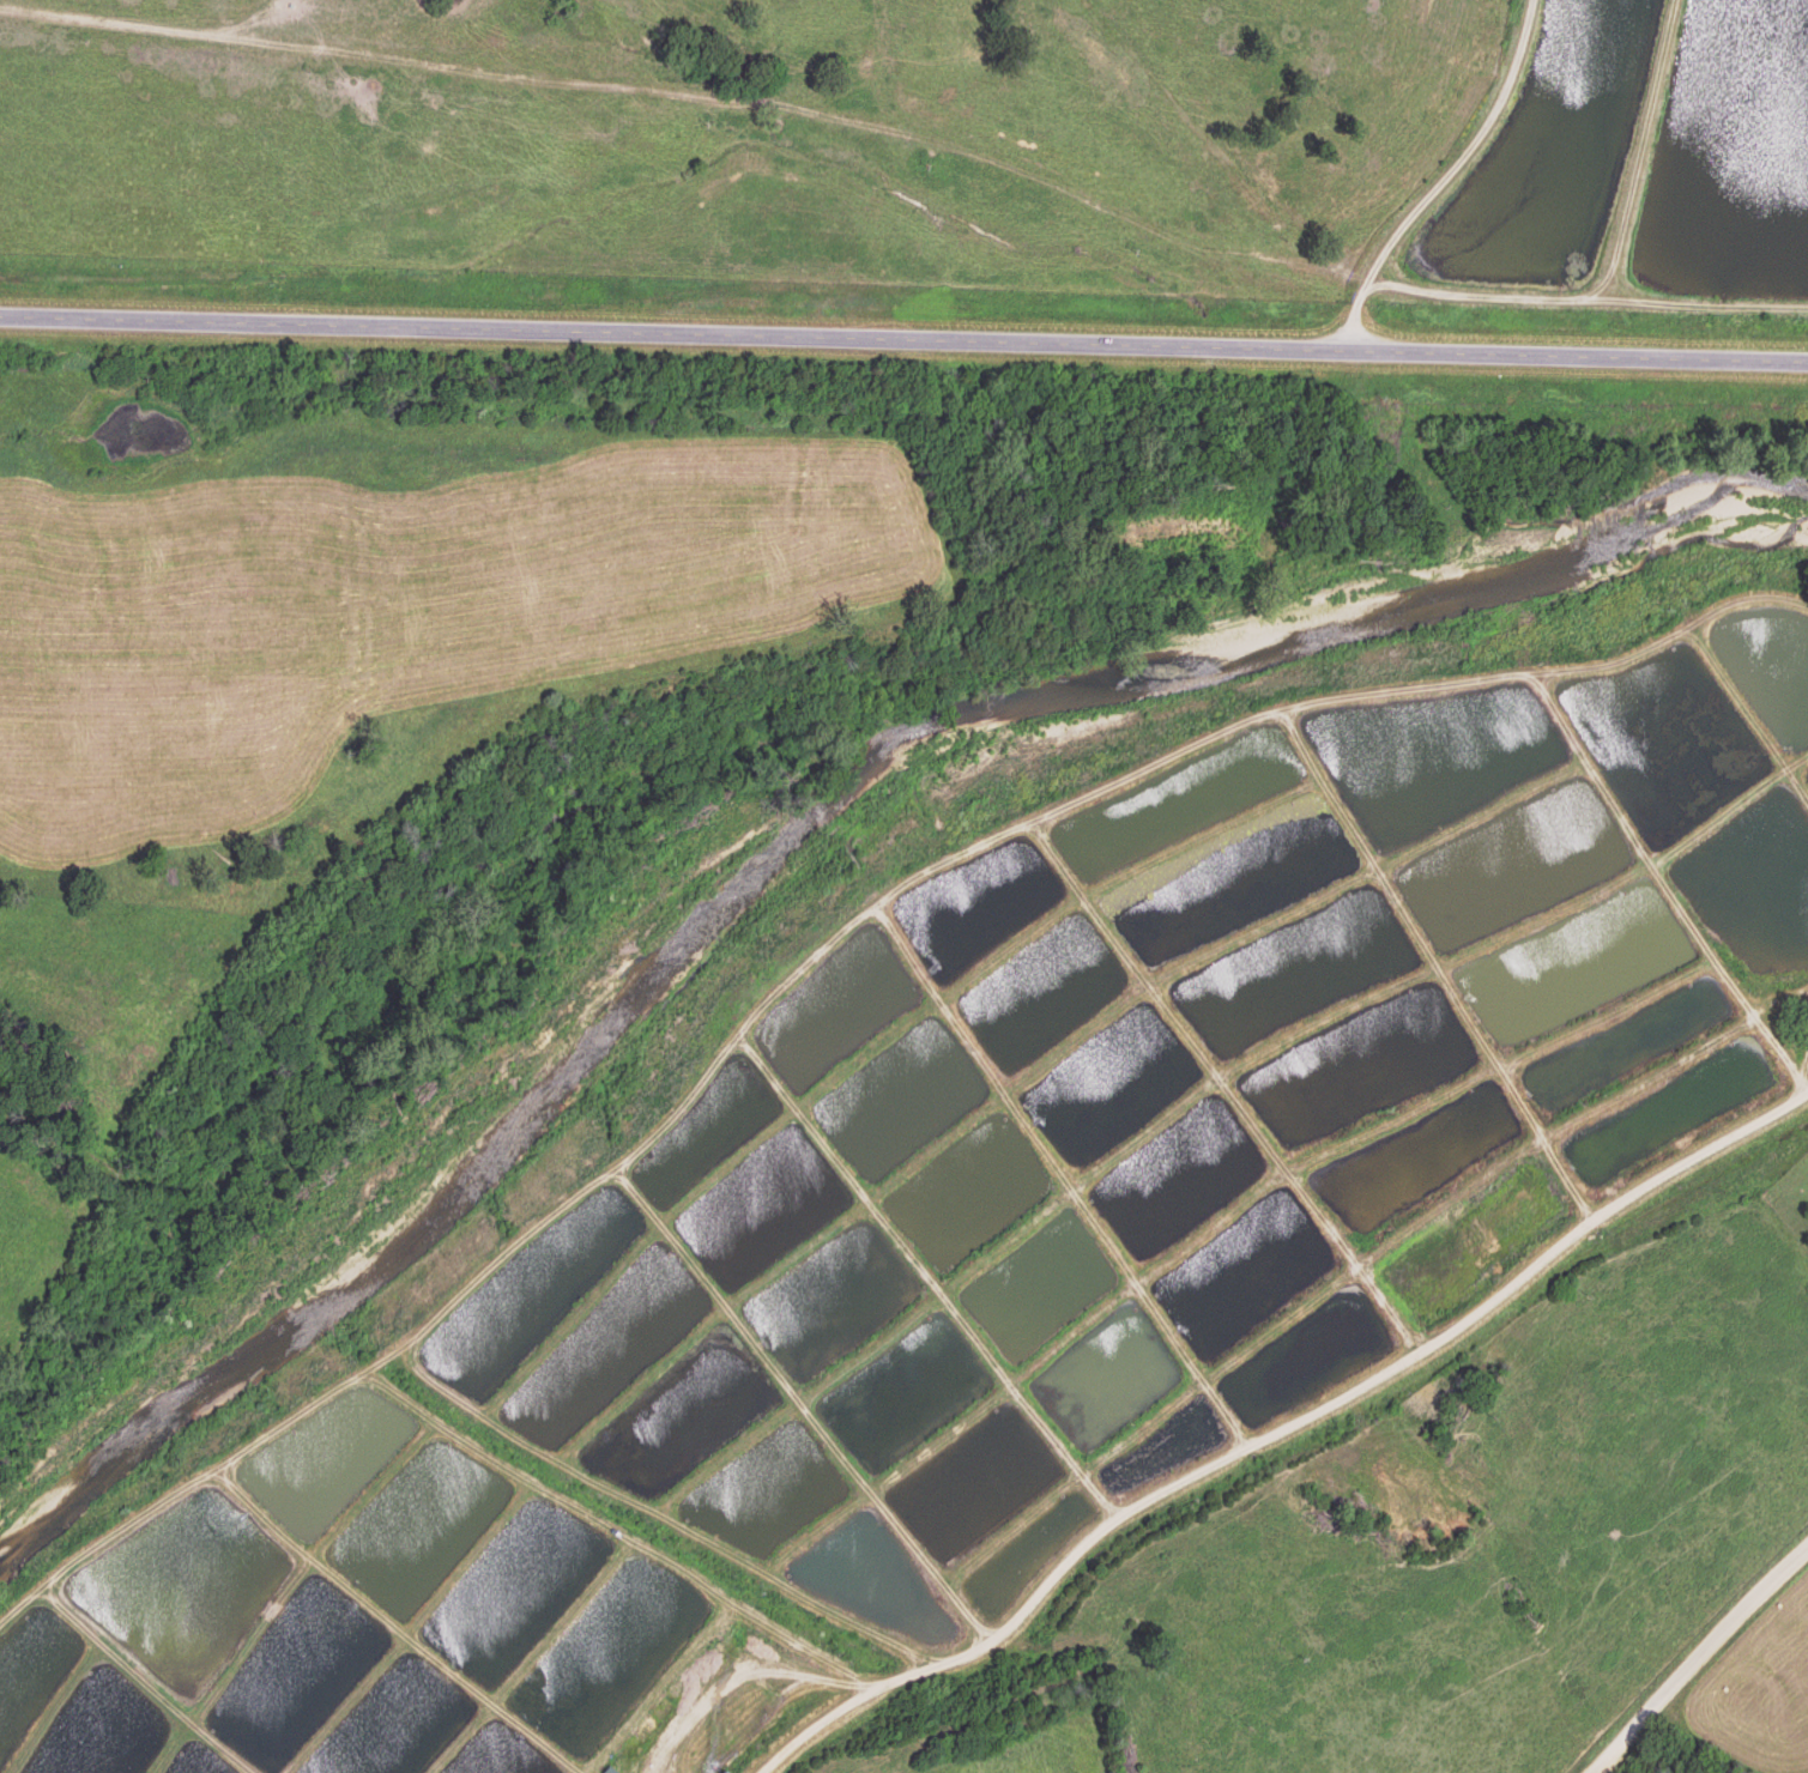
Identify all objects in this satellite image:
road: (903, 345)
road: (1280, 1433)
road: (1695, 1654)
building: (615, 1771)

